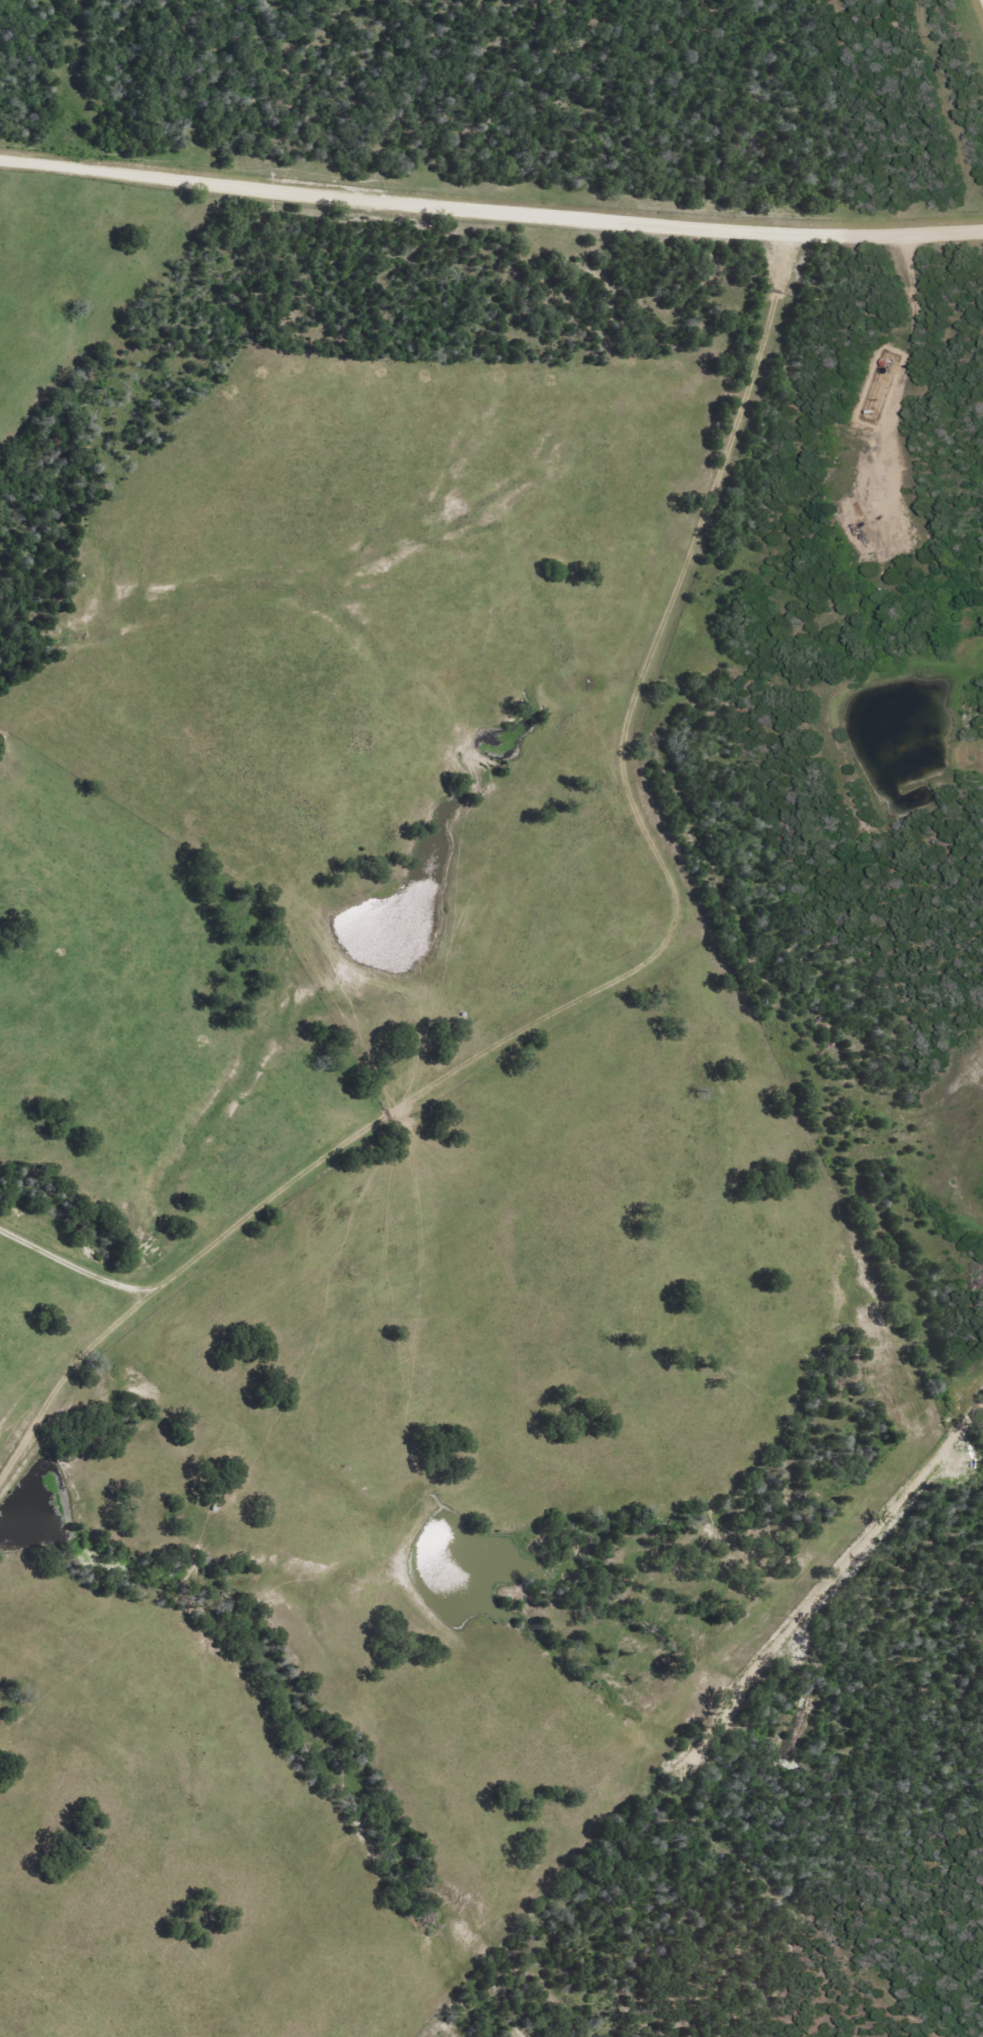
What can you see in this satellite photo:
road: (490, 207)
road: (619, 972)
road: (96, 1271)

